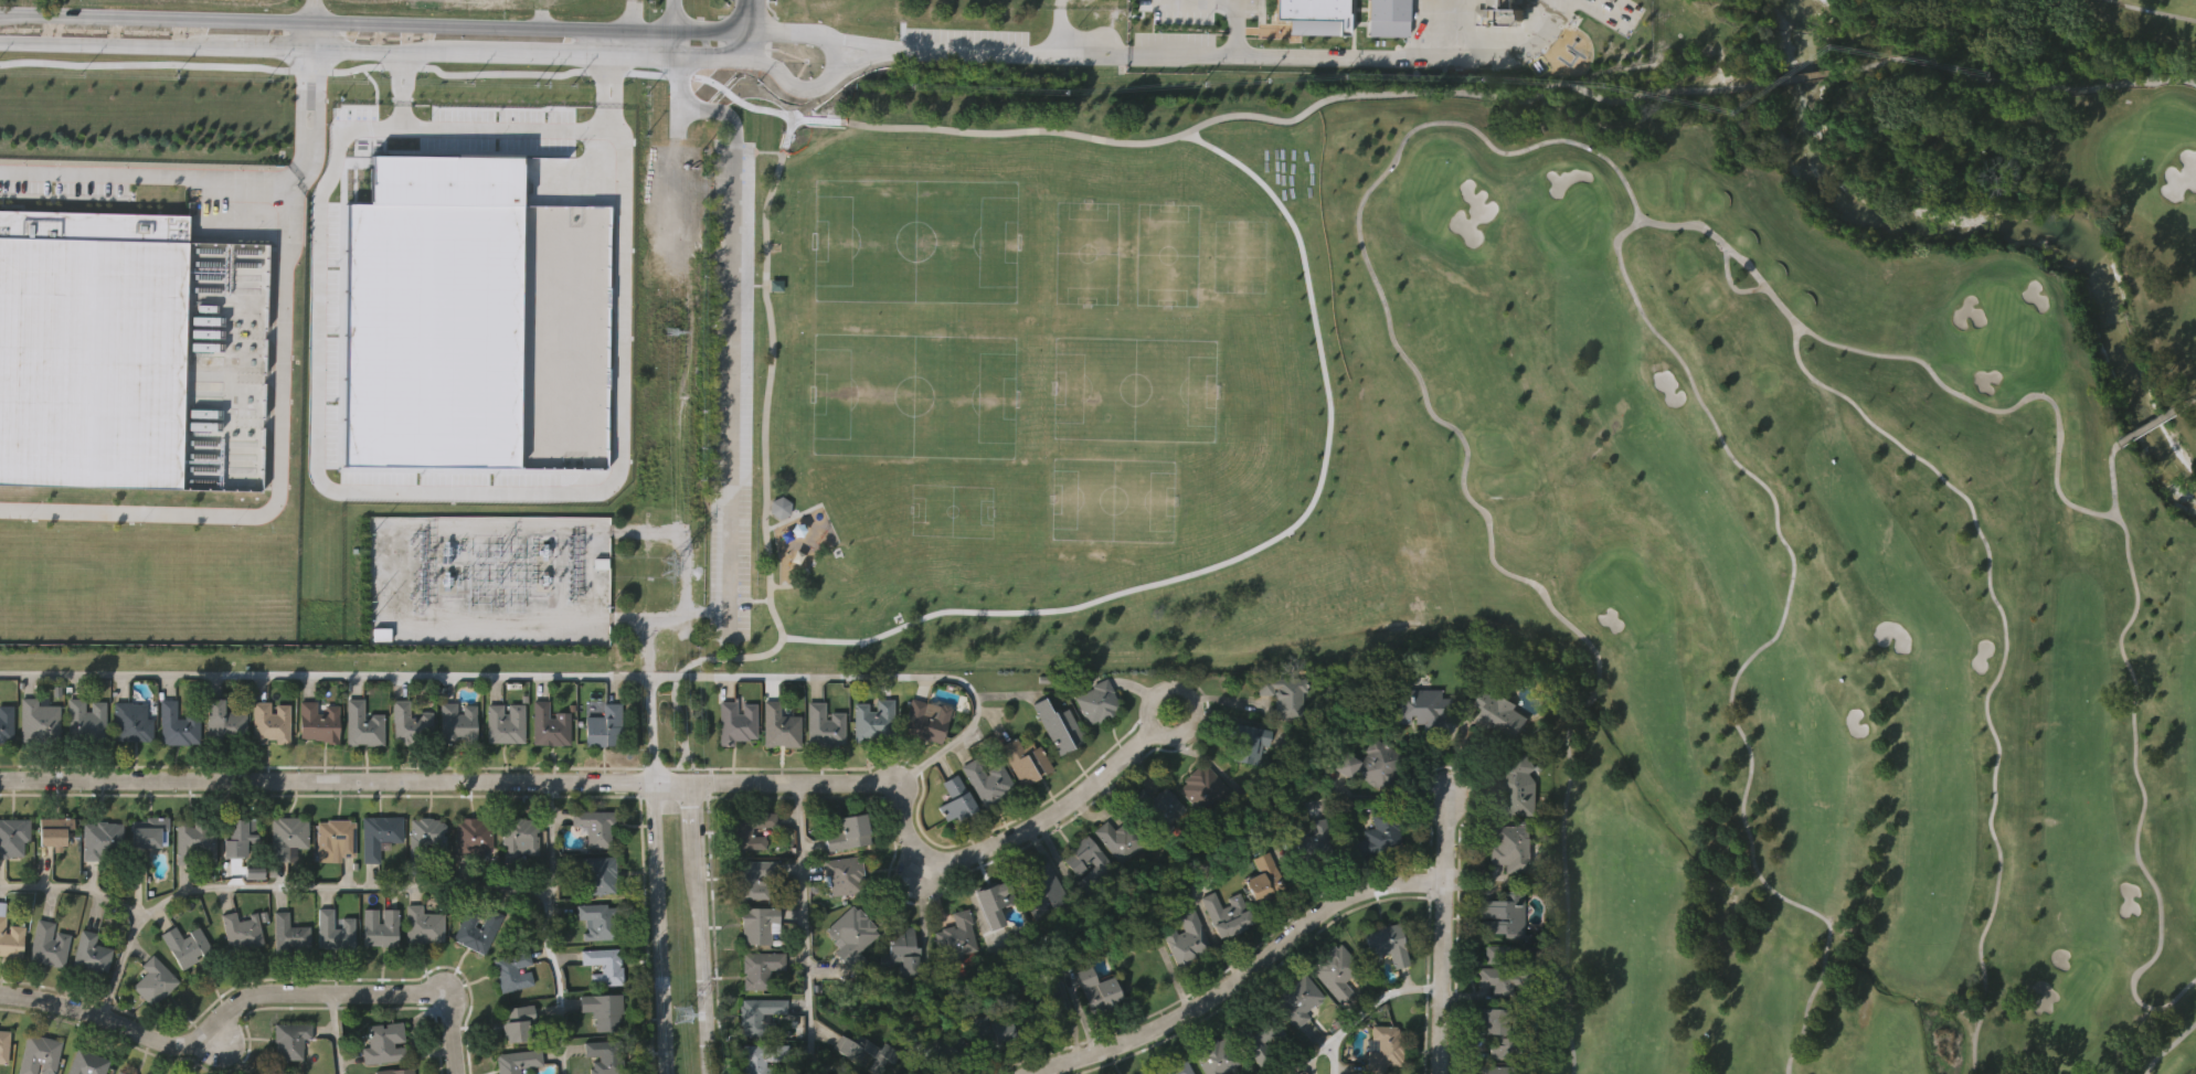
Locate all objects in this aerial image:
road: (1201, 0)
road: (1238, 0)
building: (1502, 12)
road: (672, 14)
road: (749, 14)
building: (1315, 15)
building: (1388, 18)
road: (336, 22)
road: (1237, 28)
road: (1431, 28)
road: (763, 30)
road: (303, 34)
road: (538, 40)
road: (749, 44)
road: (436, 50)
road: (1134, 53)
road: (1503, 55)
road: (679, 76)
road: (1800, 78)
road: (2011, 82)
road: (400, 87)
road: (605, 91)
road: (738, 99)
road: (301, 123)
road: (913, 127)
road: (765, 149)
park: (1433, 191)
park: (920, 243)
park: (1086, 253)
park: (1168, 255)
building: (773, 280)
road: (756, 283)
road: (731, 313)
power tower: (670, 331)
road: (276, 344)
building: (93, 349)
park: (1016, 368)
parking lot: (728, 389)
park: (1135, 390)
park: (916, 397)
road: (588, 487)
park: (1114, 500)
park: (978, 503)
building: (778, 507)
road: (776, 508)
road: (791, 518)
park: (1813, 522)
road: (1261, 546)
power tower: (669, 566)
power substation: (490, 581)
road: (772, 583)
road: (686, 588)
road: (756, 596)
road: (554, 678)
building: (1284, 694)
building: (1097, 701)
building: (1421, 706)
building: (1500, 715)
building: (38, 719)
building: (85, 719)
building: (873, 719)
building: (130, 721)
building: (224, 721)
building: (735, 721)
building: (926, 721)
building: (6, 722)
building: (319, 723)
building: (363, 723)
building: (458, 723)
building: (506, 723)
building: (177, 724)
building: (270, 724)
building: (412, 724)
building: (603, 724)
building: (824, 724)
building: (781, 725)
building: (549, 726)
building: (1058, 726)
road: (653, 730)
road: (1179, 735)
building: (1249, 741)
building: (1026, 758)
building: (1371, 764)
road: (628, 780)
building: (987, 781)
building: (1202, 786)
building: (1519, 786)
building: (956, 797)
building: (1158, 807)
building: (595, 826)
building: (750, 828)
building: (55, 829)
building: (148, 829)
building: (848, 830)
building: (1380, 832)
building: (240, 833)
building: (337, 833)
building: (380, 833)
building: (13, 836)
building: (289, 836)
building: (474, 836)
building: (103, 837)
building: (427, 838)
building: (520, 838)
building: (1122, 838)
building: (194, 839)
building: (1311, 840)
building: (1513, 846)
building: (1101, 866)
building: (844, 873)
building: (598, 875)
building: (754, 876)
building: (1264, 878)
road: (289, 887)
road: (76, 890)
building: (1044, 890)
building: (994, 900)
building: (1227, 913)
building: (1504, 913)
building: (756, 922)
building: (597, 923)
building: (424, 926)
building: (382, 927)
road: (551, 927)
road: (659, 927)
building: (242, 928)
road: (697, 928)
road: (805, 928)
building: (336, 929)
building: (478, 931)
building: (290, 933)
building: (851, 934)
building: (956, 936)
road: (1442, 936)
building: (10, 937)
building: (1187, 939)
building: (1387, 943)
building: (187, 944)
building: (50, 945)
building: (899, 953)
building: (92, 955)
building: (605, 968)
building: (761, 968)
building: (513, 969)
building: (1338, 969)
building: (1506, 970)
road: (1240, 976)
building: (155, 979)
building: (1097, 989)
building: (1298, 997)
road: (248, 998)
building: (1047, 1004)
building: (603, 1011)
power tower: (685, 1012)
building: (757, 1013)
building: (517, 1019)
road: (1359, 1019)
building: (1498, 1030)
building: (994, 1031)
building: (1260, 1031)
road: (336, 1033)
building: (291, 1039)
building: (384, 1043)
building: (2, 1044)
building: (1386, 1048)
building: (940, 1049)
building: (869, 1051)
building: (39, 1054)
building: (1217, 1055)
building: (763, 1056)
building: (605, 1057)
road: (1330, 1057)
building: (517, 1061)
building: (86, 1063)
building: (1175, 1067)
building: (1496, 1068)
building: (400, 1072)
building: (119, 1073)
building: (278, 1073)

